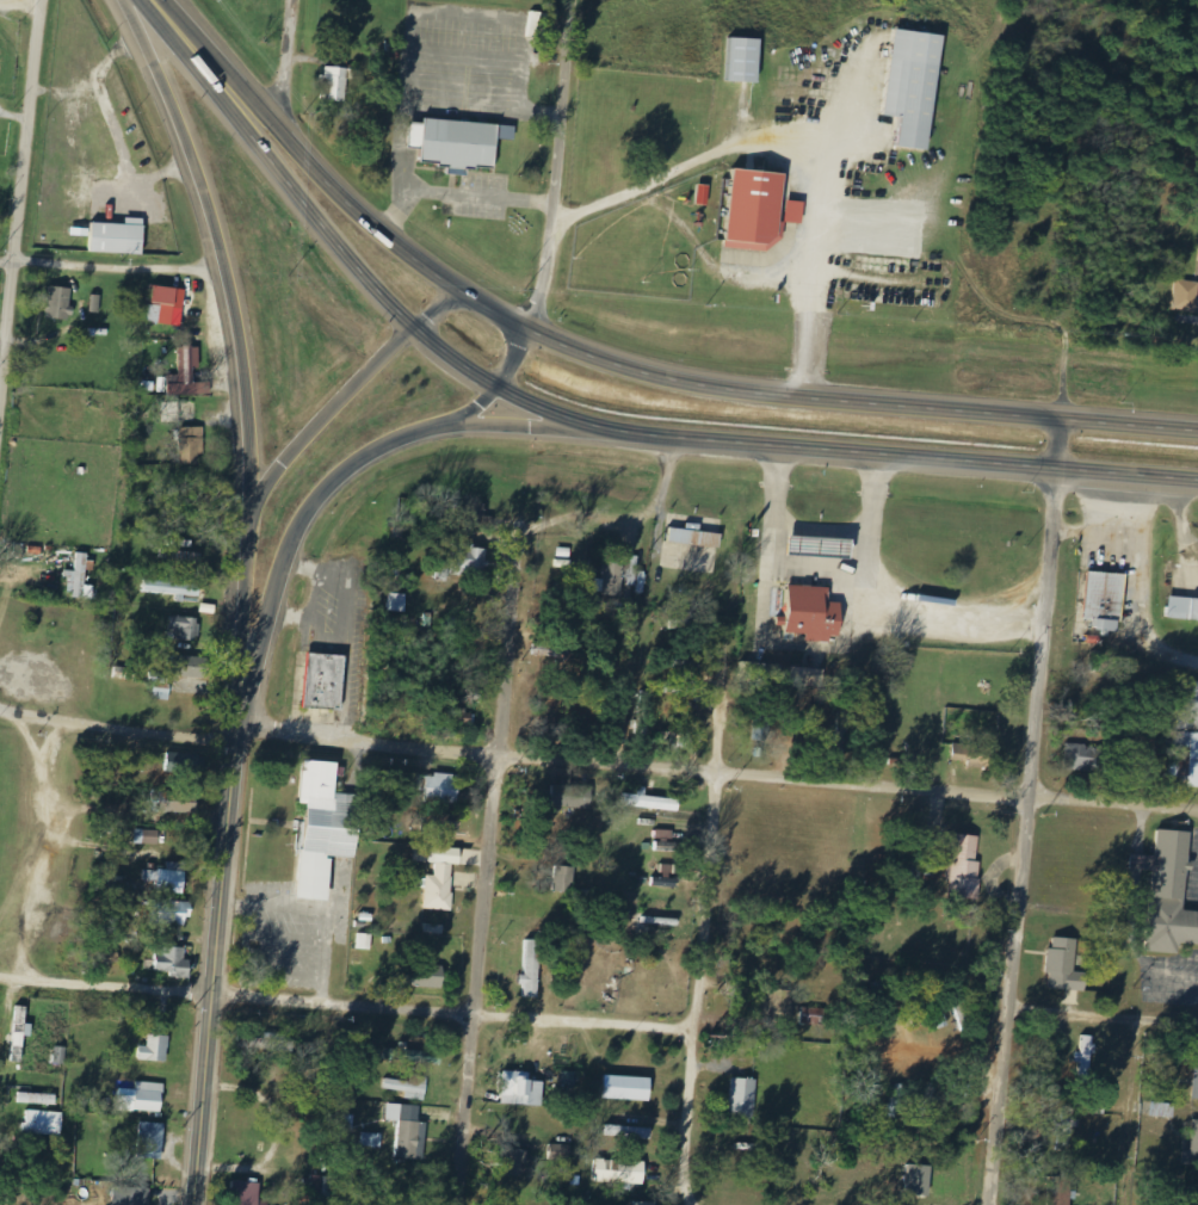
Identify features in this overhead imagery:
building: (538, 25)
building: (743, 60)
road: (190, 67)
road: (216, 69)
road: (291, 69)
building: (335, 84)
building: (916, 101)
building: (450, 141)
road: (554, 165)
road: (18, 200)
building: (755, 210)
building: (119, 237)
road: (399, 247)
road: (821, 252)
road: (6, 264)
road: (121, 267)
building: (1186, 296)
building: (58, 303)
building: (95, 304)
building: (165, 305)
road: (234, 333)
building: (186, 373)
road: (499, 391)
road: (345, 398)
road: (859, 404)
road: (524, 428)
road: (661, 439)
building: (191, 446)
road: (303, 523)
building: (699, 545)
building: (819, 546)
building: (470, 561)
building: (79, 579)
building: (636, 585)
building: (174, 588)
building: (1105, 601)
building: (399, 602)
building: (1184, 608)
building: (811, 613)
building: (183, 629)
building: (192, 667)
building: (803, 678)
building: (325, 681)
building: (162, 694)
building: (457, 716)
road: (119, 724)
building: (1185, 736)
building: (975, 755)
building: (1088, 758)
road: (718, 770)
building: (444, 789)
building: (574, 795)
building: (652, 802)
building: (175, 805)
road: (1025, 812)
building: (443, 823)
building: (326, 828)
building: (665, 840)
building: (965, 869)
road: (489, 870)
building: (439, 876)
building: (564, 878)
building: (173, 879)
building: (1168, 894)
building: (172, 914)
building: (365, 941)
road: (216, 945)
building: (174, 962)
building: (1066, 965)
building: (532, 969)
building: (430, 977)
road: (700, 988)
building: (782, 1002)
road: (344, 1011)
building: (813, 1015)
road: (1103, 1018)
building: (156, 1050)
building: (1197, 1081)
building: (409, 1088)
building: (628, 1088)
building: (521, 1089)
building: (142, 1098)
building: (743, 1098)
building: (38, 1099)
building: (1163, 1110)
building: (45, 1123)
building: (407, 1130)
building: (628, 1132)
building: (371, 1139)
building: (152, 1141)
building: (1191, 1148)
building: (558, 1153)
building: (512, 1162)
building: (620, 1172)
building: (320, 1185)
building: (1060, 1191)
building: (245, 1193)
building: (135, 1197)

